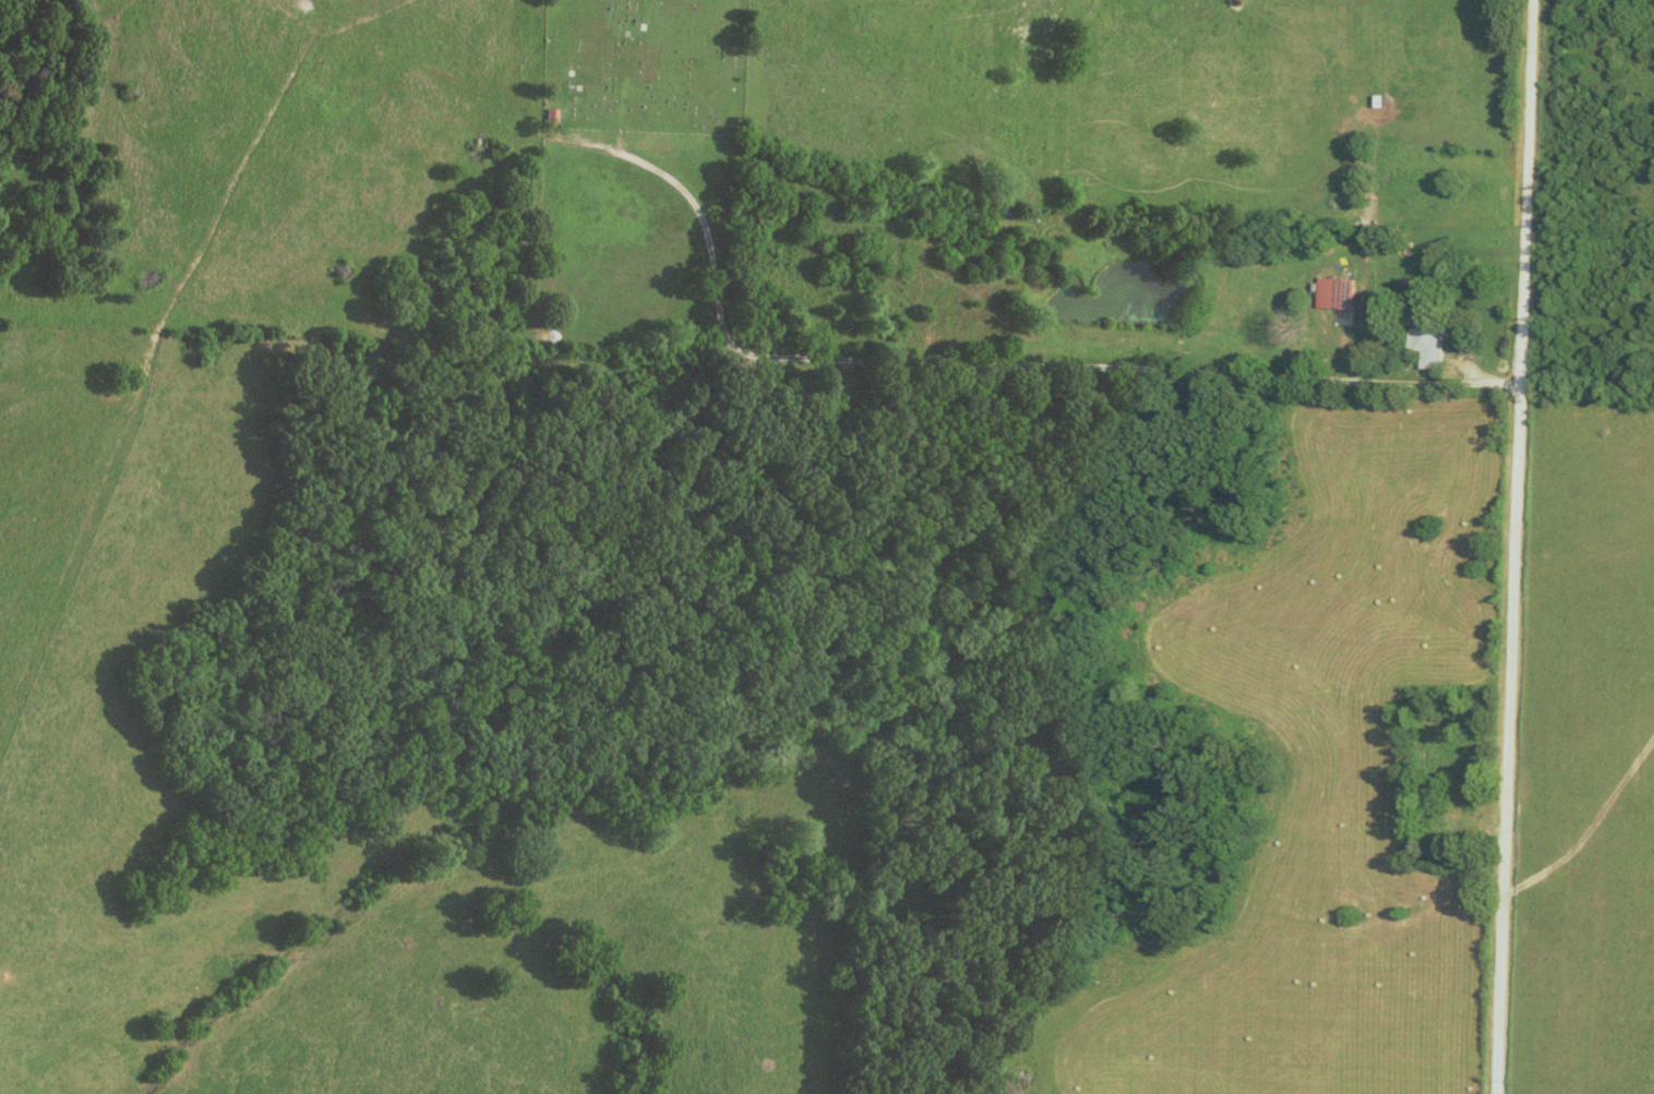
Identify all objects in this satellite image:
building: (1340, 291)
building: (1434, 337)
road: (981, 352)
road: (1512, 546)

